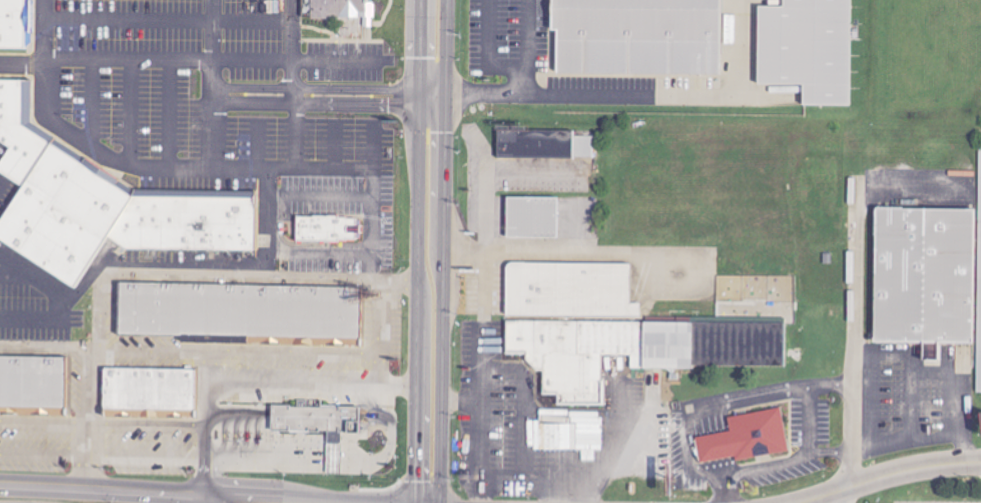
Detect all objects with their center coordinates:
building: (337, 6)
building: (721, 12)
road: (166, 18)
building: (13, 21)
road: (43, 28)
road: (211, 29)
building: (637, 36)
road: (289, 42)
building: (807, 48)
road: (187, 58)
road: (509, 64)
road: (526, 80)
road: (211, 92)
road: (291, 94)
road: (409, 94)
traffic signals: (419, 95)
road: (433, 95)
traffic signals: (447, 95)
road: (635, 95)
road: (89, 101)
road: (127, 110)
road: (165, 111)
road: (209, 111)
building: (20, 132)
road: (292, 134)
road: (252, 142)
road: (333, 143)
road: (371, 143)
building: (543, 143)
road: (92, 148)
road: (317, 166)
building: (980, 182)
road: (483, 190)
road: (264, 192)
road: (317, 195)
building: (63, 215)
building: (532, 217)
building: (186, 222)
road: (370, 222)
building: (325, 228)
road: (417, 251)
road: (444, 251)
road: (316, 252)
road: (574, 252)
road: (178, 272)
road: (14, 273)
building: (926, 274)
road: (34, 277)
building: (569, 288)
building: (978, 308)
road: (96, 309)
road: (481, 310)
building: (242, 311)
road: (851, 320)
building: (720, 328)
road: (378, 331)
building: (979, 338)
road: (236, 347)
building: (565, 355)
road: (487, 368)
building: (979, 368)
road: (919, 374)
building: (32, 384)
road: (293, 384)
road: (828, 385)
road: (869, 390)
building: (149, 391)
road: (741, 403)
road: (566, 411)
road: (89, 418)
building: (315, 419)
road: (104, 421)
road: (209, 421)
road: (809, 422)
road: (479, 423)
road: (388, 429)
road: (521, 431)
building: (570, 437)
building: (745, 437)
road: (688, 451)
road: (828, 452)
road: (45, 453)
road: (148, 457)
road: (266, 459)
road: (331, 460)
road: (345, 460)
road: (774, 465)
road: (844, 470)
road: (701, 471)
road: (726, 472)
road: (890, 474)
road: (736, 482)
road: (722, 483)
road: (520, 485)
road: (580, 486)
road: (151, 492)
road: (839, 497)
road: (731, 498)
road: (209, 499)
road: (244, 500)

